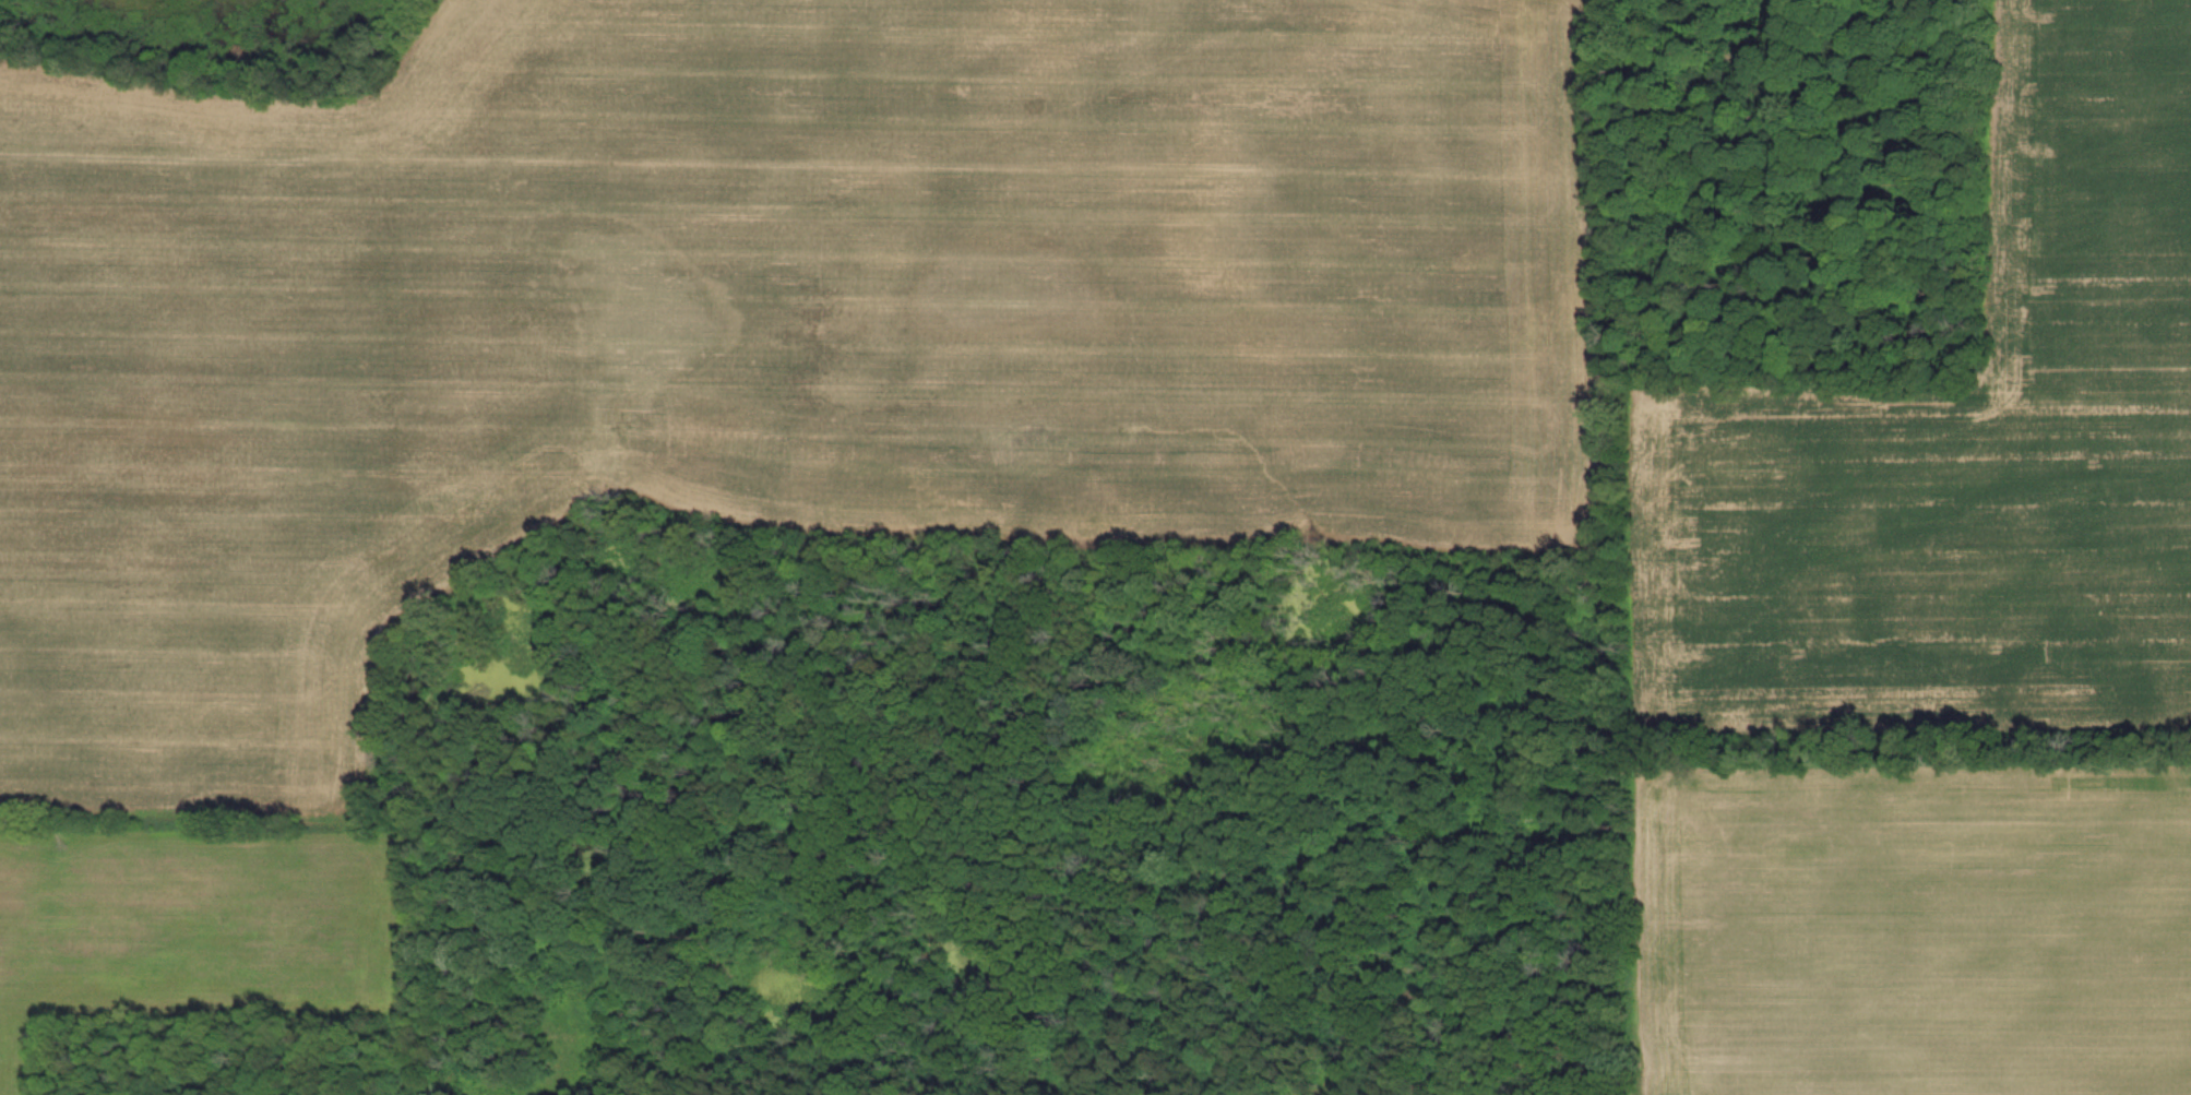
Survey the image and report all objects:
crop: (759, 322)
crop: (1964, 452)
crop: (1916, 932)

